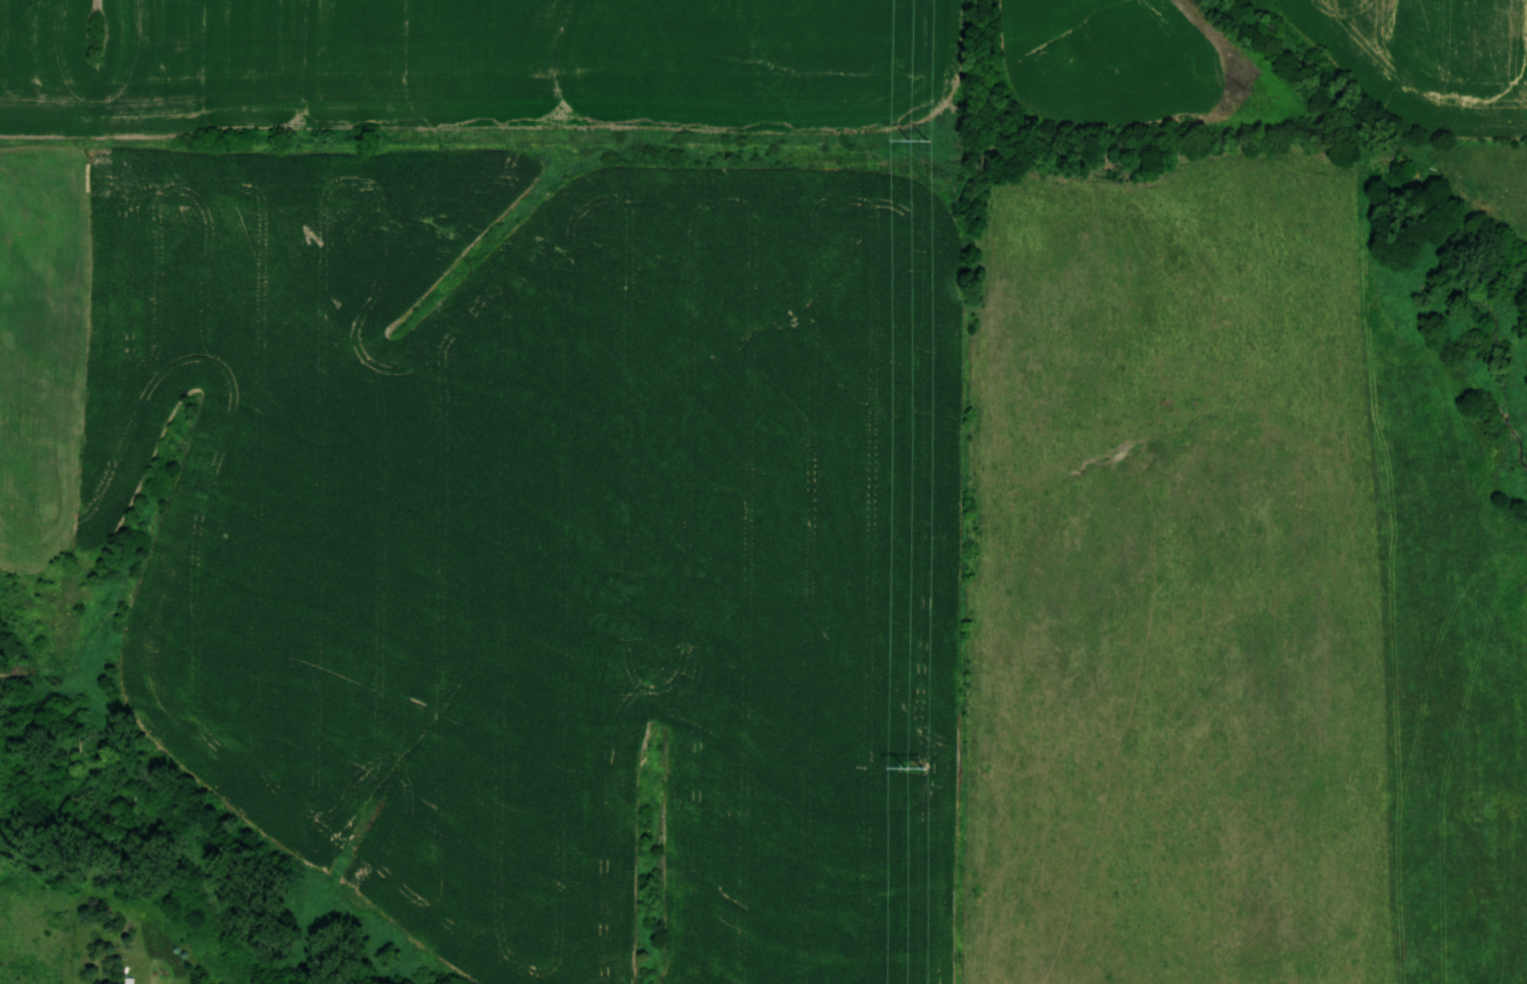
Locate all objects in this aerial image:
power tower: (921, 144)
power tower: (920, 772)
building: (131, 980)

